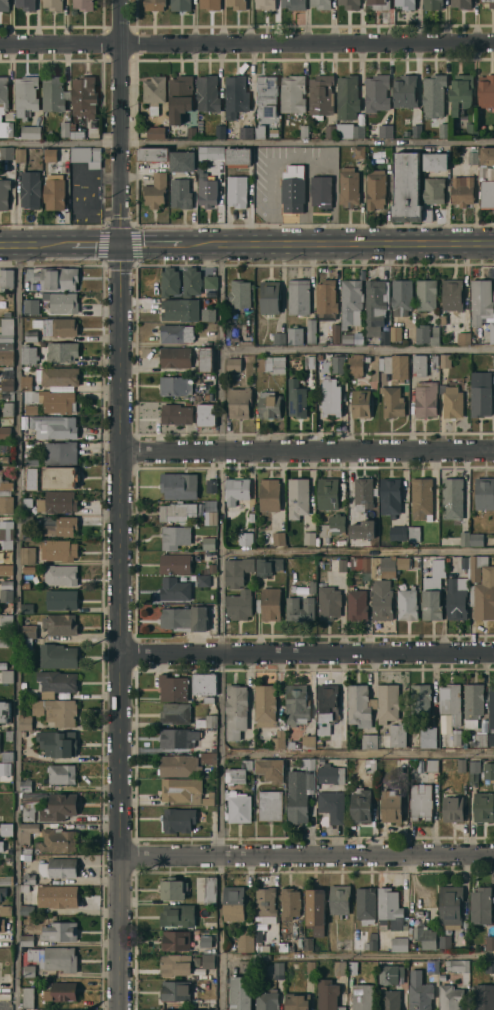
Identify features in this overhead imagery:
building: (461, 3)
building: (27, 4)
building: (154, 4)
building: (211, 4)
building: (238, 4)
building: (266, 4)
building: (294, 4)
building: (321, 4)
building: (350, 4)
building: (380, 4)
building: (406, 4)
building: (433, 4)
building: (5, 5)
building: (53, 5)
building: (84, 5)
building: (180, 5)
building: (492, 5)
road: (246, 43)
building: (487, 90)
building: (406, 91)
building: (155, 92)
building: (462, 92)
building: (54, 93)
building: (378, 93)
building: (209, 94)
building: (268, 94)
building: (294, 94)
building: (434, 95)
building: (27, 96)
building: (85, 96)
building: (237, 96)
building: (322, 96)
building: (348, 97)
building: (181, 98)
building: (5, 108)
building: (94, 123)
building: (201, 124)
building: (65, 129)
building: (381, 130)
building: (417, 130)
building: (444, 130)
building: (473, 130)
building: (221, 131)
building: (261, 131)
building: (305, 131)
building: (331, 131)
building: (31, 132)
building: (157, 132)
building: (192, 132)
building: (241, 132)
building: (352, 132)
building: (80, 134)
road: (60, 142)
road: (307, 142)
building: (215, 152)
building: (359, 152)
building: (7, 153)
building: (86, 154)
building: (154, 154)
building: (21, 155)
building: (487, 155)
building: (474, 156)
building: (239, 157)
building: (375, 159)
building: (183, 161)
building: (436, 161)
building: (349, 187)
building: (294, 188)
building: (407, 188)
building: (31, 189)
building: (376, 189)
building: (156, 190)
building: (434, 190)
building: (463, 190)
building: (237, 191)
building: (322, 191)
building: (208, 192)
building: (4, 193)
building: (181, 193)
building: (54, 194)
building: (487, 194)
building: (428, 215)
road: (41, 244)
road: (102, 244)
traffic signals: (120, 244)
road: (144, 244)
road: (331, 244)
building: (58, 278)
building: (6, 279)
building: (170, 282)
building: (192, 282)
building: (211, 283)
building: (240, 294)
building: (426, 294)
building: (453, 294)
building: (402, 295)
road: (218, 296)
building: (299, 296)
building: (270, 297)
building: (327, 300)
building: (481, 300)
building: (351, 302)
building: (64, 303)
building: (376, 304)
building: (32, 305)
building: (10, 308)
building: (181, 309)
building: (209, 314)
building: (57, 326)
building: (7, 330)
building: (312, 331)
building: (244, 332)
building: (491, 332)
building: (177, 333)
building: (396, 333)
building: (335, 334)
building: (427, 334)
building: (32, 335)
building: (295, 335)
building: (386, 337)
building: (280, 338)
building: (348, 338)
building: (464, 338)
building: (214, 342)
building: (7, 345)
road: (356, 349)
building: (62, 351)
building: (29, 353)
building: (7, 357)
building: (176, 357)
building: (320, 358)
building: (206, 359)
building: (435, 360)
building: (446, 360)
building: (234, 364)
building: (272, 364)
building: (311, 364)
building: (338, 364)
building: (420, 364)
building: (356, 365)
building: (397, 366)
building: (58, 376)
building: (27, 382)
building: (7, 384)
building: (176, 385)
building: (481, 394)
building: (8, 396)
building: (331, 397)
building: (297, 399)
building: (426, 399)
building: (393, 401)
building: (56, 402)
building: (240, 402)
building: (453, 402)
building: (362, 404)
building: (270, 405)
building: (8, 409)
building: (32, 409)
building: (177, 414)
building: (207, 415)
building: (55, 426)
building: (5, 433)
road: (306, 450)
building: (61, 453)
building: (5, 459)
building: (32, 460)
building: (4, 469)
building: (60, 477)
building: (32, 479)
building: (6, 485)
building: (179, 485)
building: (212, 486)
building: (237, 490)
building: (328, 493)
building: (484, 493)
building: (362, 494)
building: (270, 495)
building: (391, 496)
building: (298, 497)
building: (422, 498)
building: (453, 499)
building: (6, 501)
building: (61, 501)
road: (119, 504)
building: (178, 512)
building: (211, 513)
building: (252, 518)
building: (354, 519)
building: (61, 525)
building: (334, 525)
building: (26, 526)
building: (7, 529)
building: (363, 529)
building: (398, 533)
building: (415, 533)
building: (176, 536)
building: (246, 538)
building: (279, 538)
building: (310, 538)
building: (465, 539)
building: (477, 539)
building: (209, 543)
building: (7, 544)
building: (59, 550)
road: (356, 553)
building: (29, 555)
building: (180, 562)
building: (465, 562)
building: (363, 563)
building: (403, 563)
building: (388, 564)
building: (339, 565)
building: (269, 566)
building: (7, 567)
building: (477, 567)
building: (30, 569)
building: (238, 571)
building: (206, 572)
building: (62, 574)
building: (204, 580)
building: (7, 584)
building: (313, 586)
building: (176, 589)
building: (433, 592)
building: (484, 594)
building: (6, 595)
building: (62, 599)
building: (382, 600)
building: (456, 601)
building: (329, 603)
building: (240, 604)
building: (270, 604)
building: (357, 604)
building: (408, 604)
building: (28, 608)
building: (300, 609)
building: (187, 618)
building: (6, 621)
building: (61, 624)
road: (17, 627)
building: (29, 631)
building: (7, 643)
building: (27, 644)
road: (306, 652)
building: (58, 656)
building: (3, 665)
building: (8, 676)
road: (219, 679)
building: (57, 683)
building: (204, 683)
building: (24, 685)
building: (174, 688)
building: (209, 699)
building: (421, 699)
building: (388, 702)
building: (451, 702)
building: (299, 705)
building: (360, 705)
building: (473, 705)
building: (266, 706)
building: (327, 706)
building: (236, 711)
building: (5, 712)
building: (52, 712)
building: (176, 713)
building: (492, 714)
building: (208, 721)
building: (323, 728)
building: (9, 735)
building: (398, 735)
building: (429, 737)
building: (178, 738)
building: (278, 739)
building: (457, 739)
building: (481, 739)
building: (370, 741)
building: (58, 742)
building: (302, 743)
road: (356, 753)
building: (7, 756)
building: (209, 757)
building: (180, 765)
building: (371, 765)
building: (433, 765)
building: (462, 765)
building: (287, 766)
building: (271, 769)
building: (5, 770)
building: (475, 771)
building: (489, 771)
building: (238, 773)
building: (62, 774)
building: (331, 775)
building: (26, 785)
building: (180, 788)
building: (448, 788)
building: (300, 792)
building: (208, 801)
building: (421, 801)
building: (332, 805)
building: (361, 805)
building: (392, 805)
building: (30, 806)
building: (271, 806)
building: (484, 806)
building: (59, 807)
building: (239, 807)
building: (453, 809)
building: (178, 819)
building: (7, 829)
building: (27, 832)
building: (58, 840)
building: (2, 846)
building: (27, 850)
road: (306, 852)
building: (59, 867)
building: (30, 879)
building: (6, 880)
building: (174, 888)
building: (211, 890)
building: (3, 892)
building: (58, 896)
building: (340, 899)
building: (235, 903)
building: (290, 903)
building: (366, 904)
building: (450, 904)
building: (266, 905)
building: (481, 905)
building: (27, 909)
building: (6, 910)
building: (391, 910)
building: (316, 911)
building: (178, 916)
building: (2, 924)
building: (59, 931)
building: (410, 933)
building: (426, 937)
building: (27, 940)
building: (176, 940)
building: (206, 941)
building: (245, 941)
building: (371, 941)
building: (445, 941)
building: (309, 943)
building: (400, 943)
building: (490, 943)
building: (259, 945)
building: (412, 945)
building: (284, 946)
road: (356, 957)
building: (58, 958)
building: (208, 961)
building: (176, 964)
building: (458, 965)
building: (311, 966)
building: (433, 966)
building: (489, 966)
building: (340, 967)
building: (353, 967)
building: (30, 971)
building: (279, 972)
building: (389, 972)
building: (176, 990)
building: (62, 991)
building: (241, 992)
building: (420, 992)
building: (329, 995)
building: (28, 997)
building: (363, 997)
building: (451, 997)
building: (484, 997)
building: (267, 1000)
building: (390, 1000)
building: (298, 1001)
building: (32, 1009)

